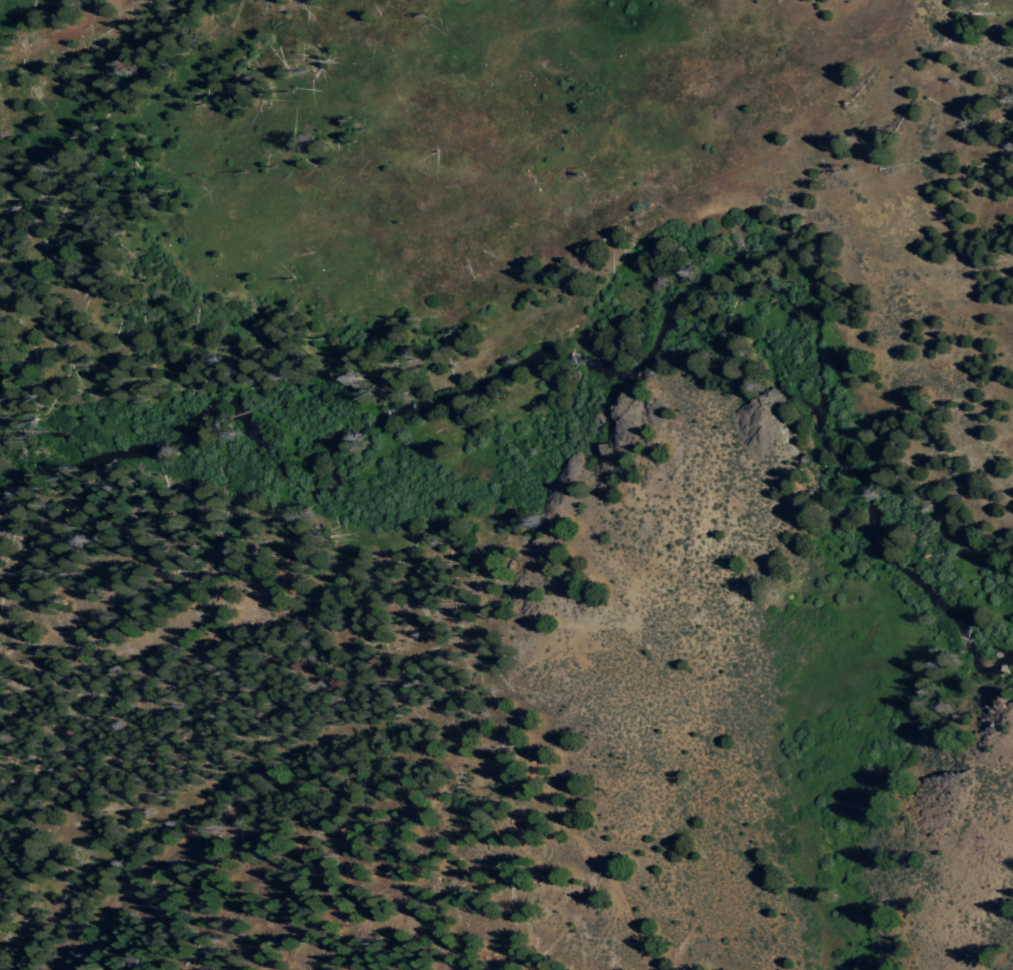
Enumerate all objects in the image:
road: (361, 763)

